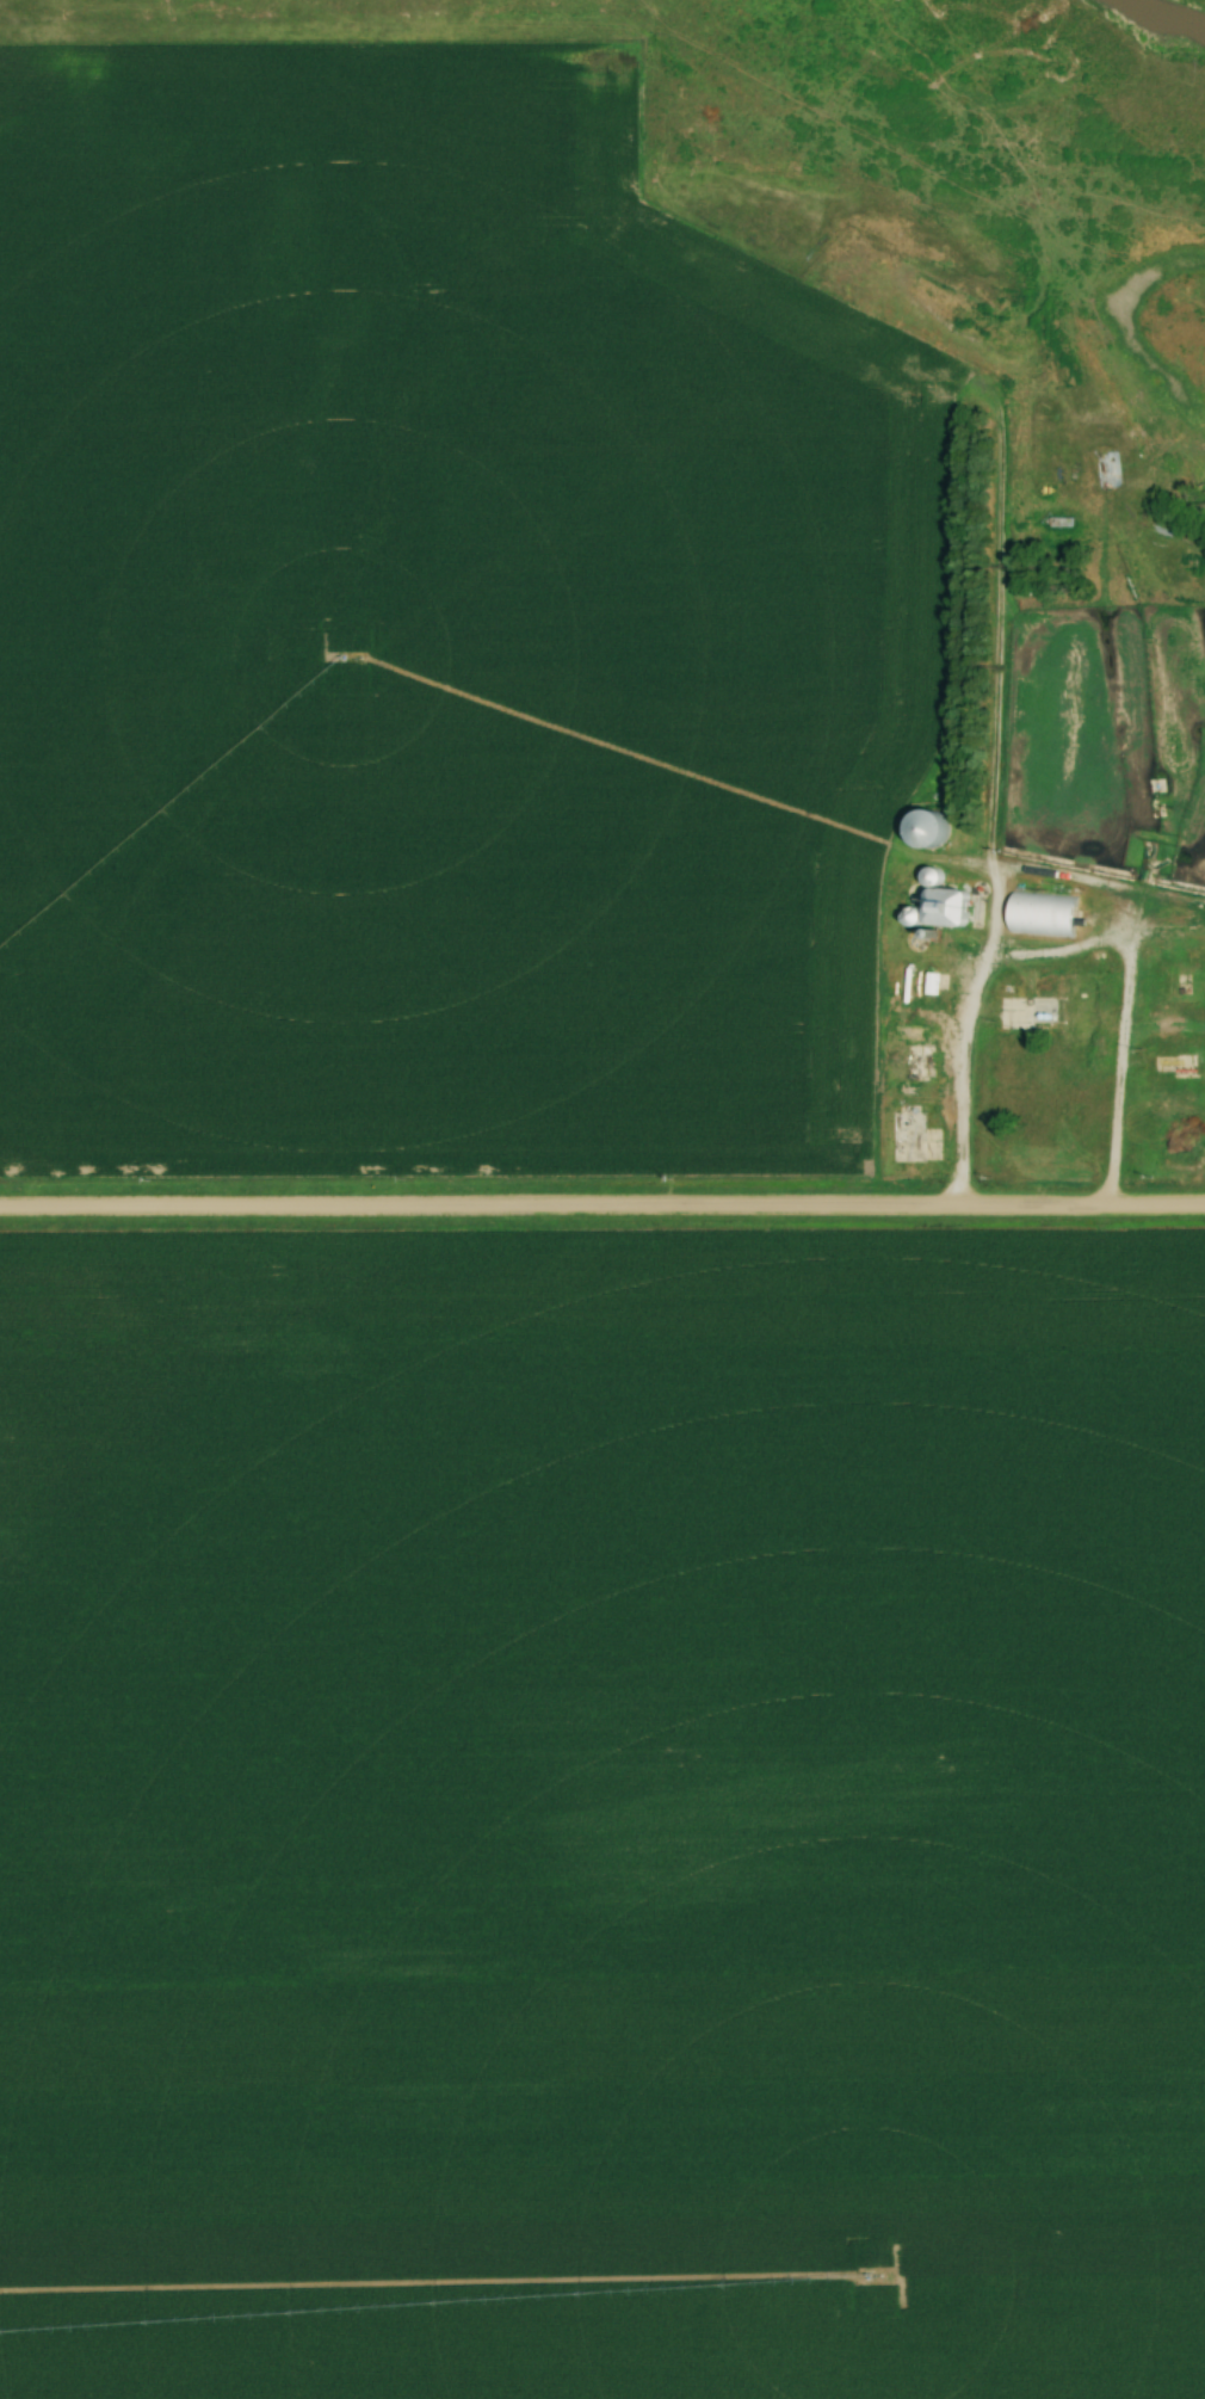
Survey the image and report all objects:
river: (1195, 4)
building: (929, 830)
building: (940, 904)
building: (1044, 913)
building: (1068, 1013)
road: (985, 1015)
road: (957, 1047)
building: (920, 1062)
building: (1186, 1066)
road: (1111, 1122)
building: (909, 1139)
road: (601, 1209)

